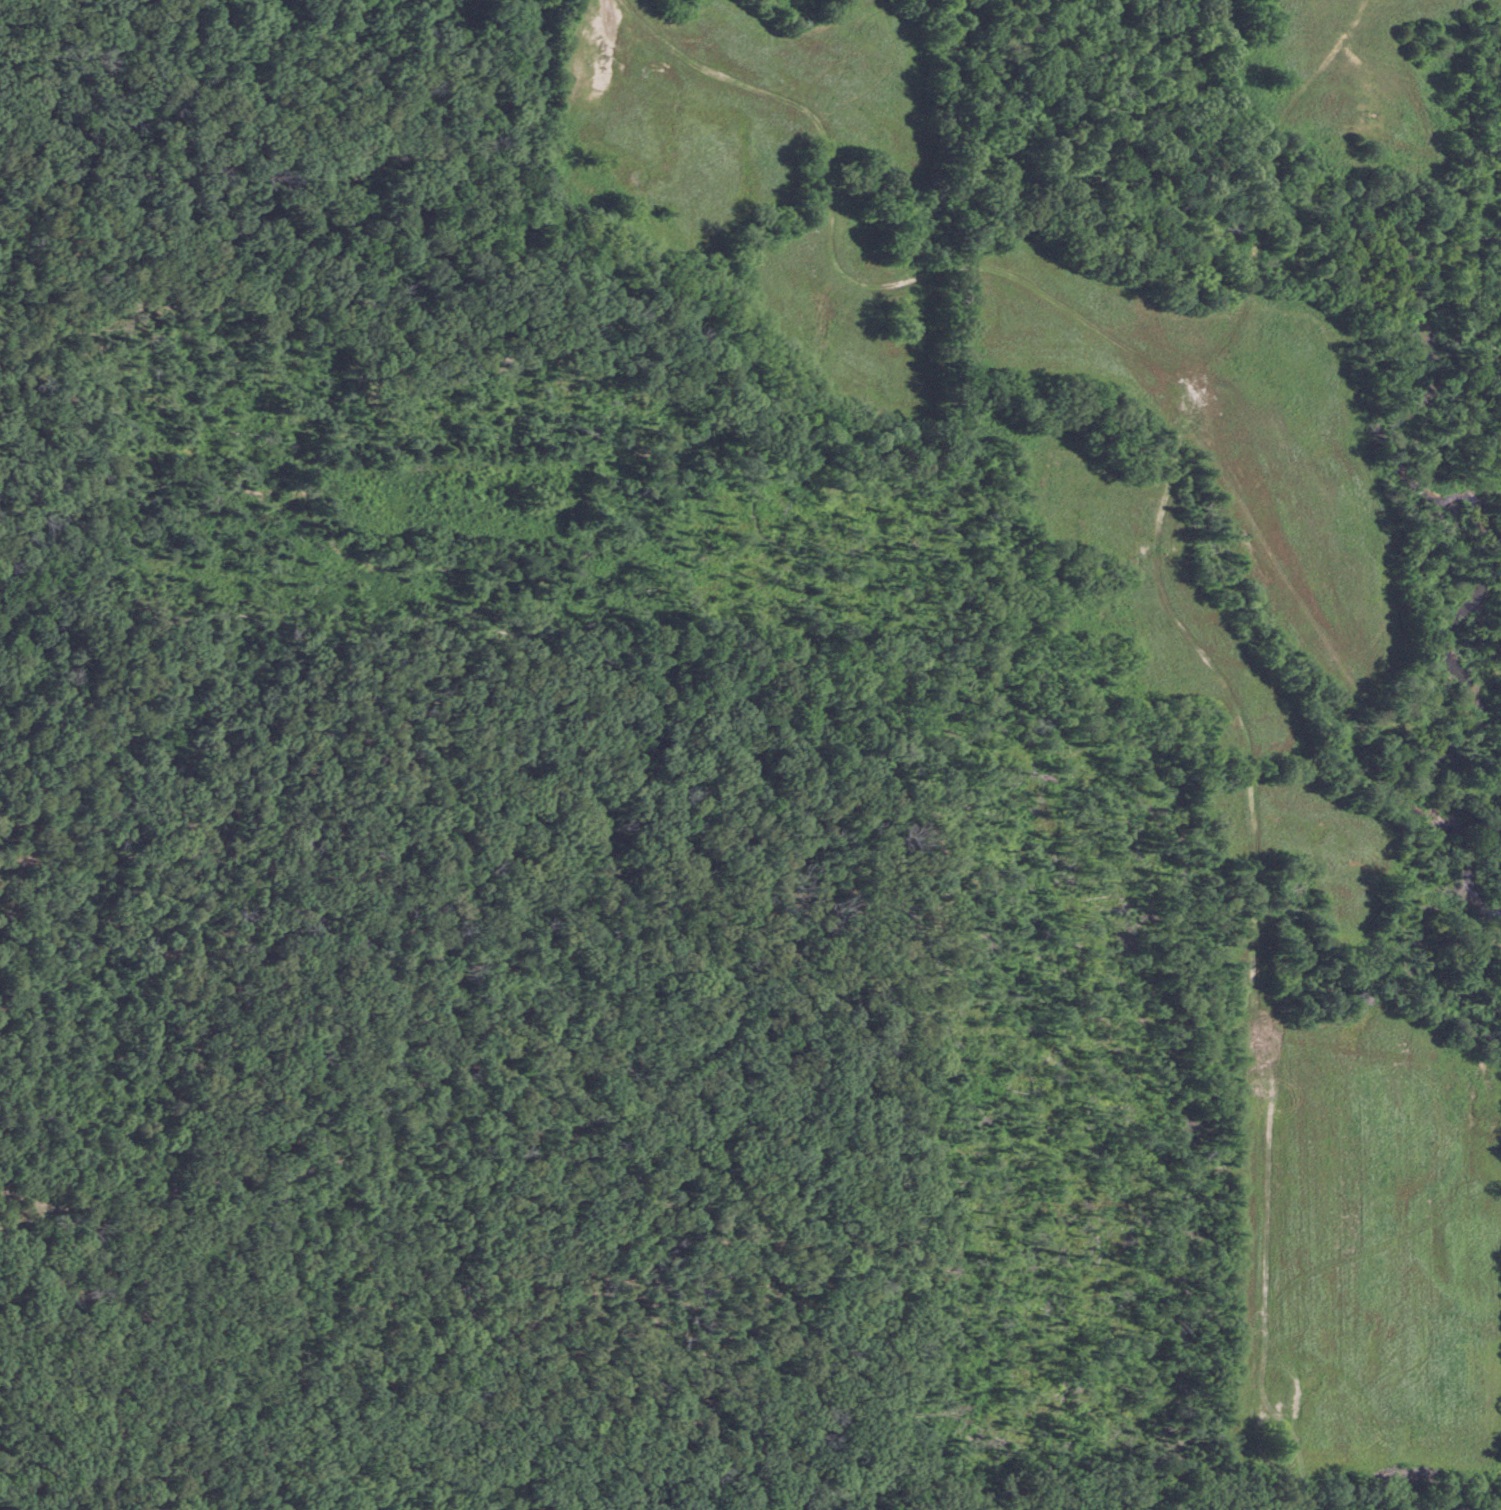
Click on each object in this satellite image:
building: (967, 307)
road: (12, 866)
road: (10, 1075)
road: (3, 1202)

